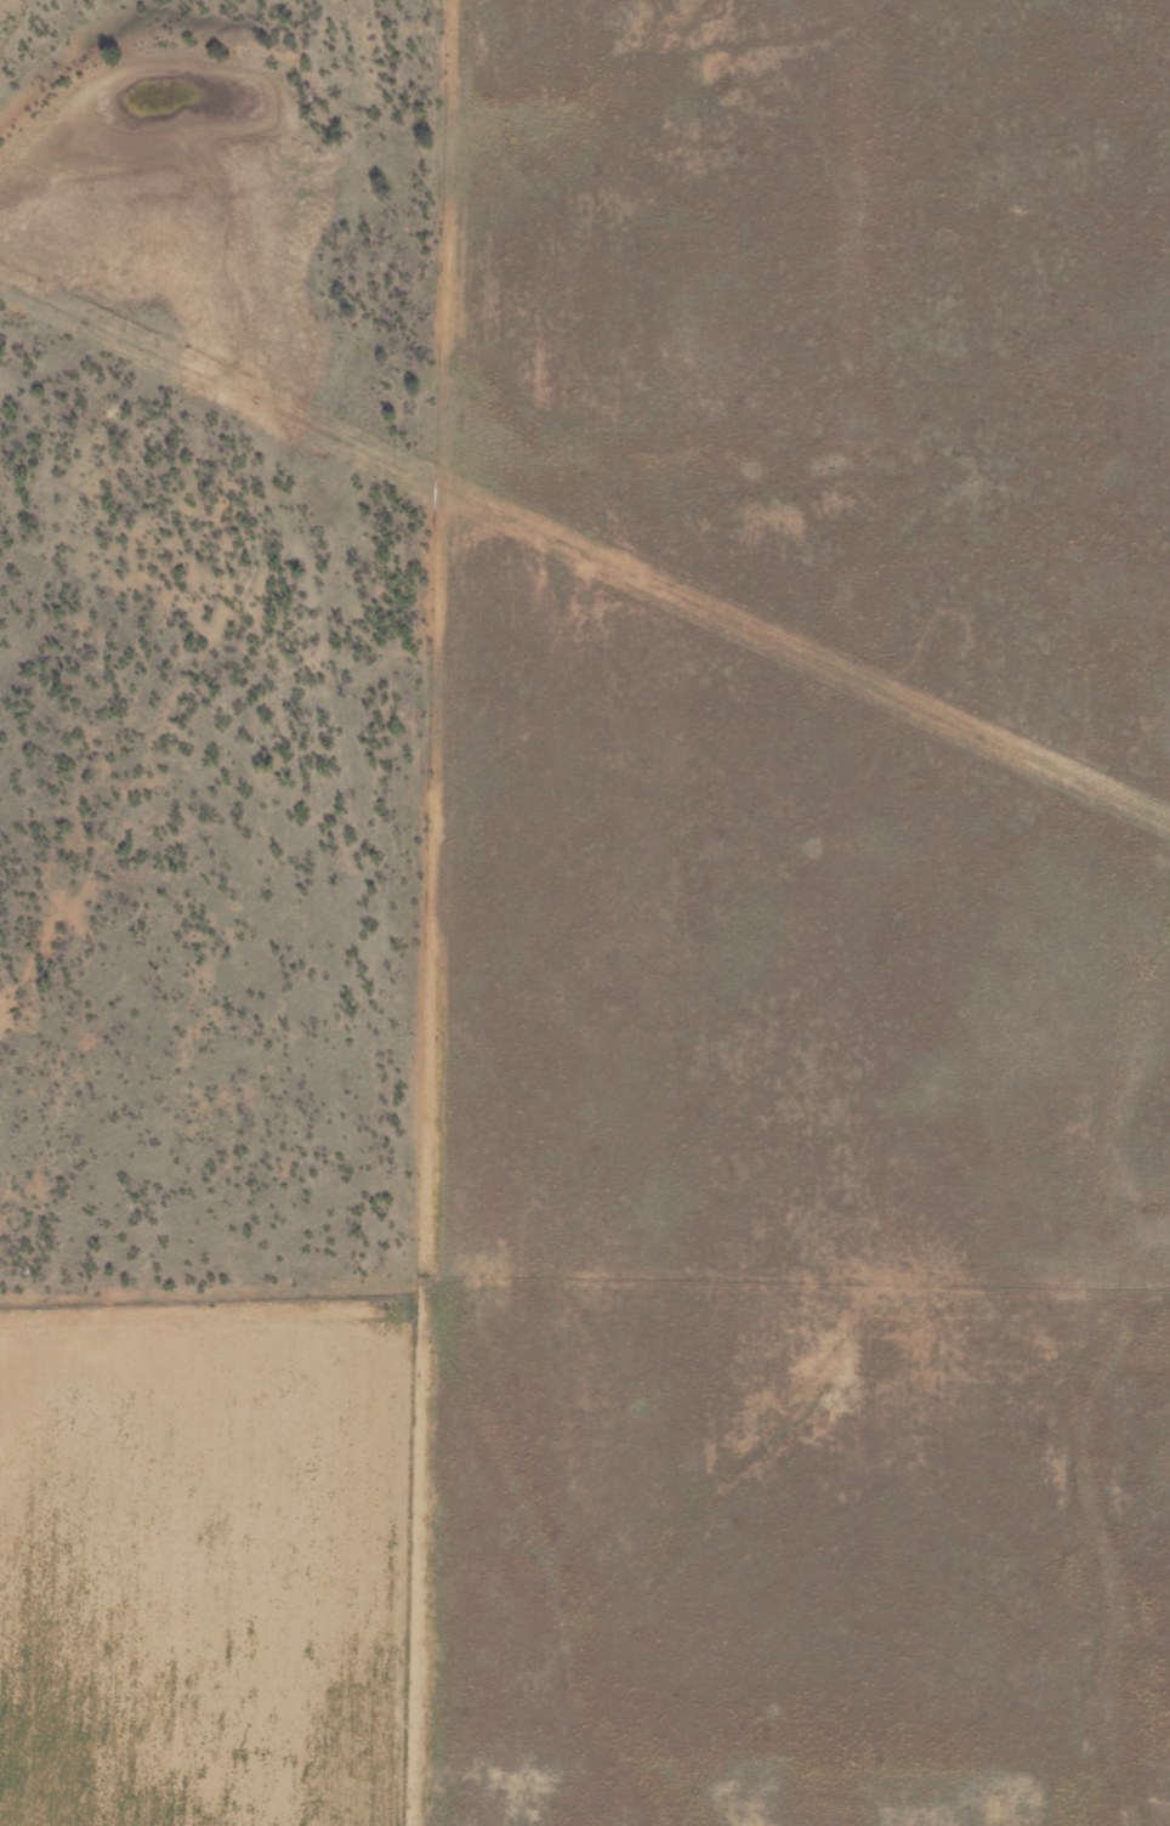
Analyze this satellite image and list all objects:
road: (244, 509)

